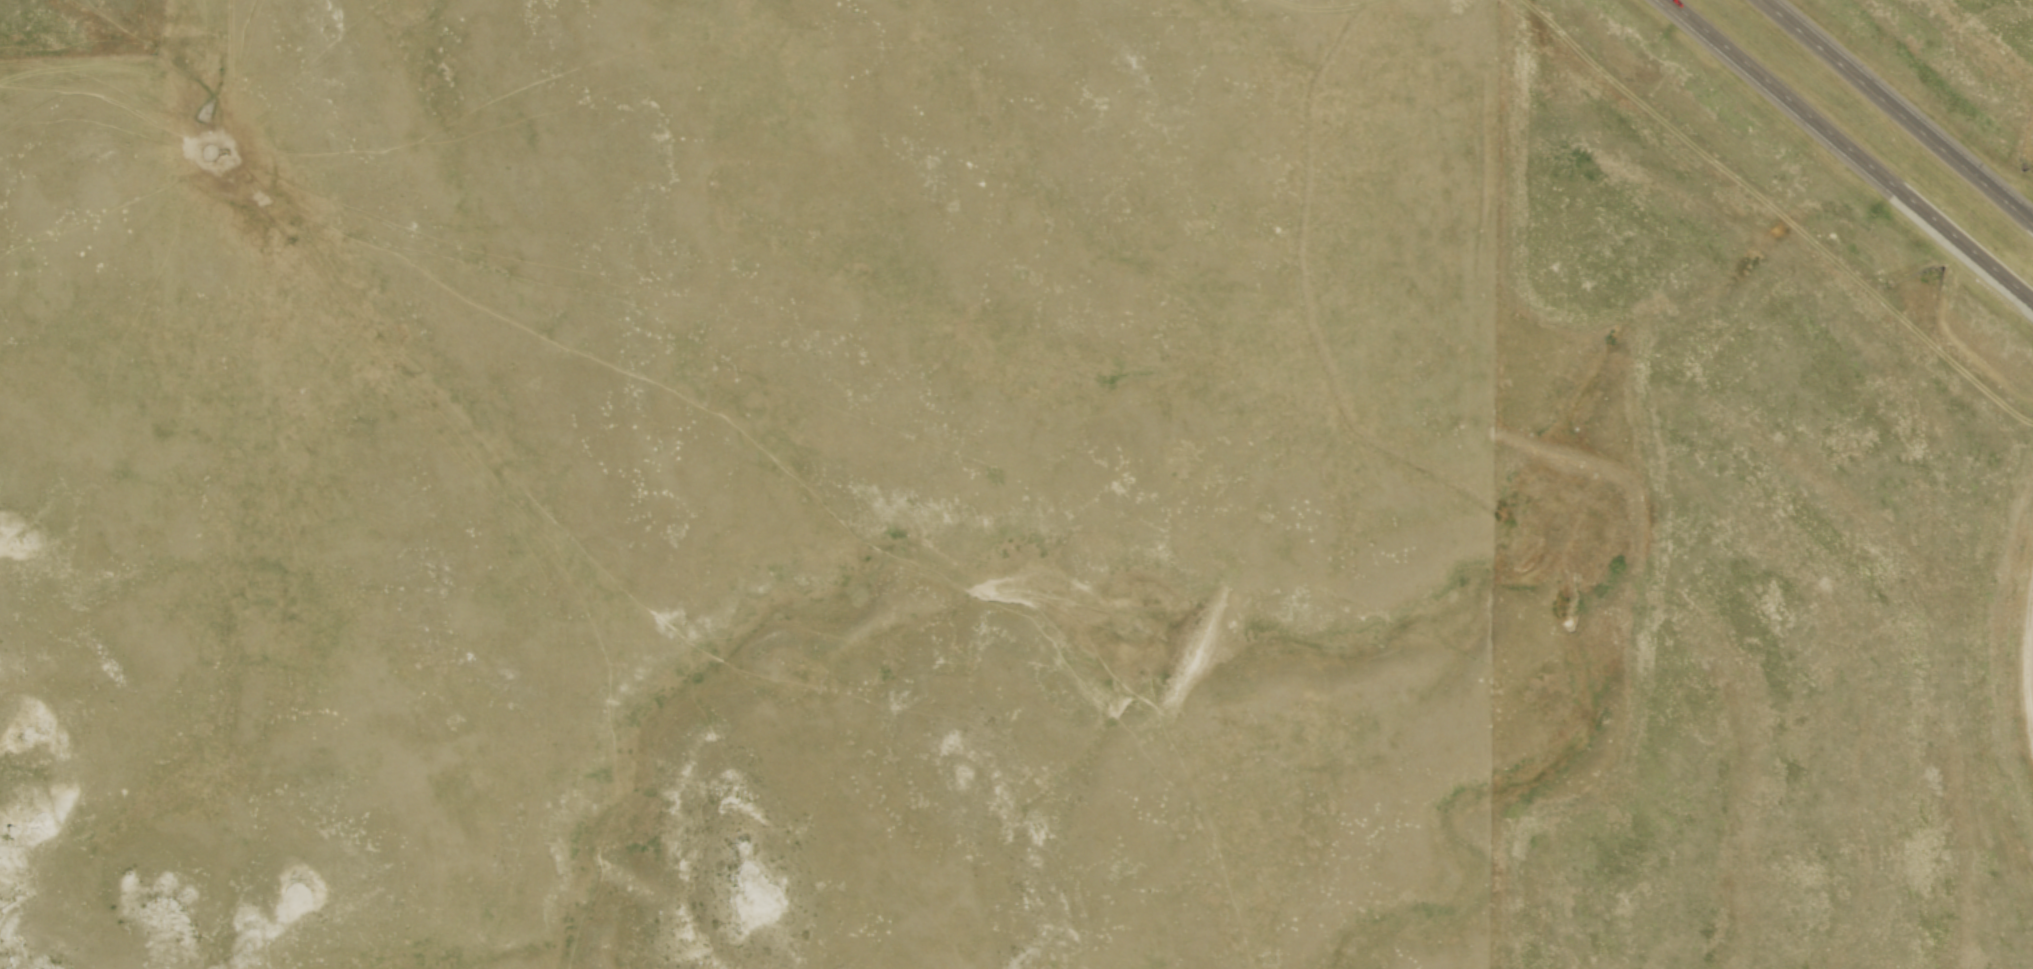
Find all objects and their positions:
road: (1894, 112)
road: (1849, 150)
road: (2030, 669)

